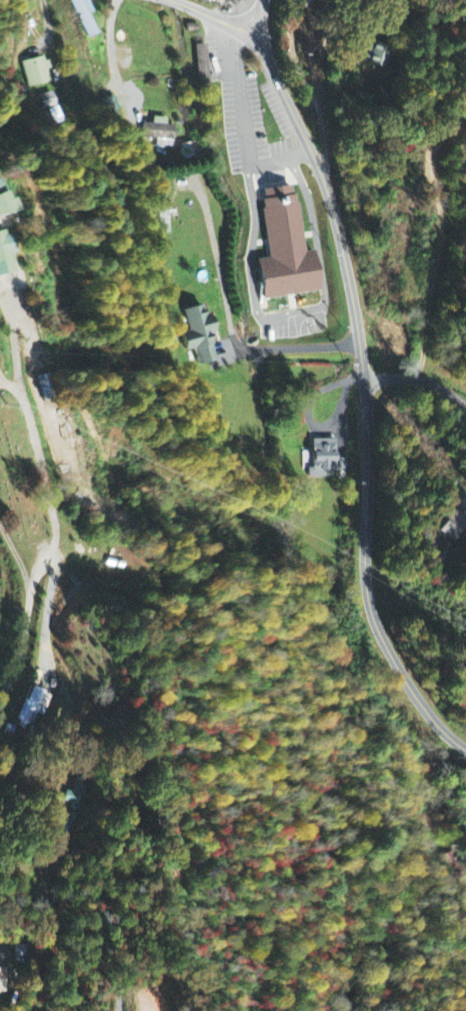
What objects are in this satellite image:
road: (192, 7)
road: (260, 16)
building: (86, 18)
road: (292, 30)
building: (377, 55)
building: (202, 62)
building: (38, 73)
road: (304, 74)
building: (158, 130)
building: (5, 204)
building: (164, 212)
building: (286, 244)
building: (6, 254)
building: (199, 334)
road: (366, 370)
road: (420, 378)
building: (323, 458)
park: (19, 475)
building: (451, 525)
building: (75, 794)
building: (67, 827)
building: (3, 979)

